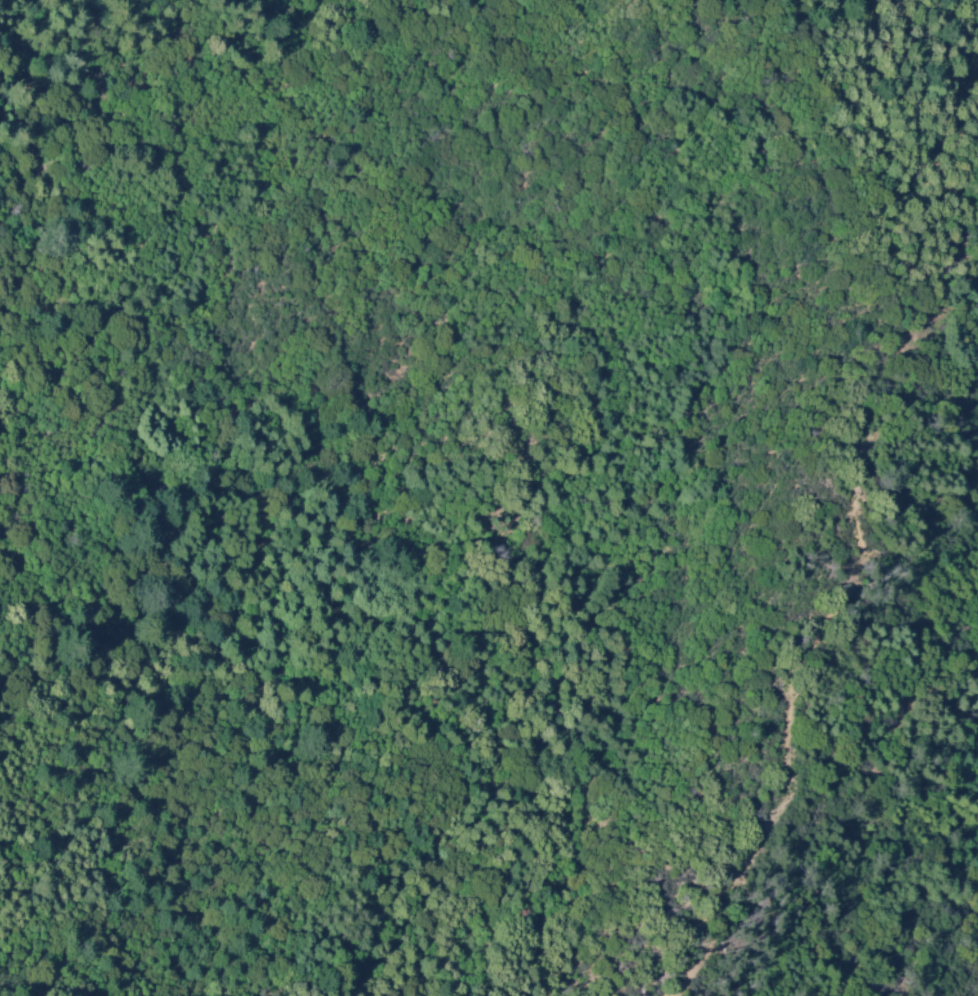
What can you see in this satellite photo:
road: (18, 129)

